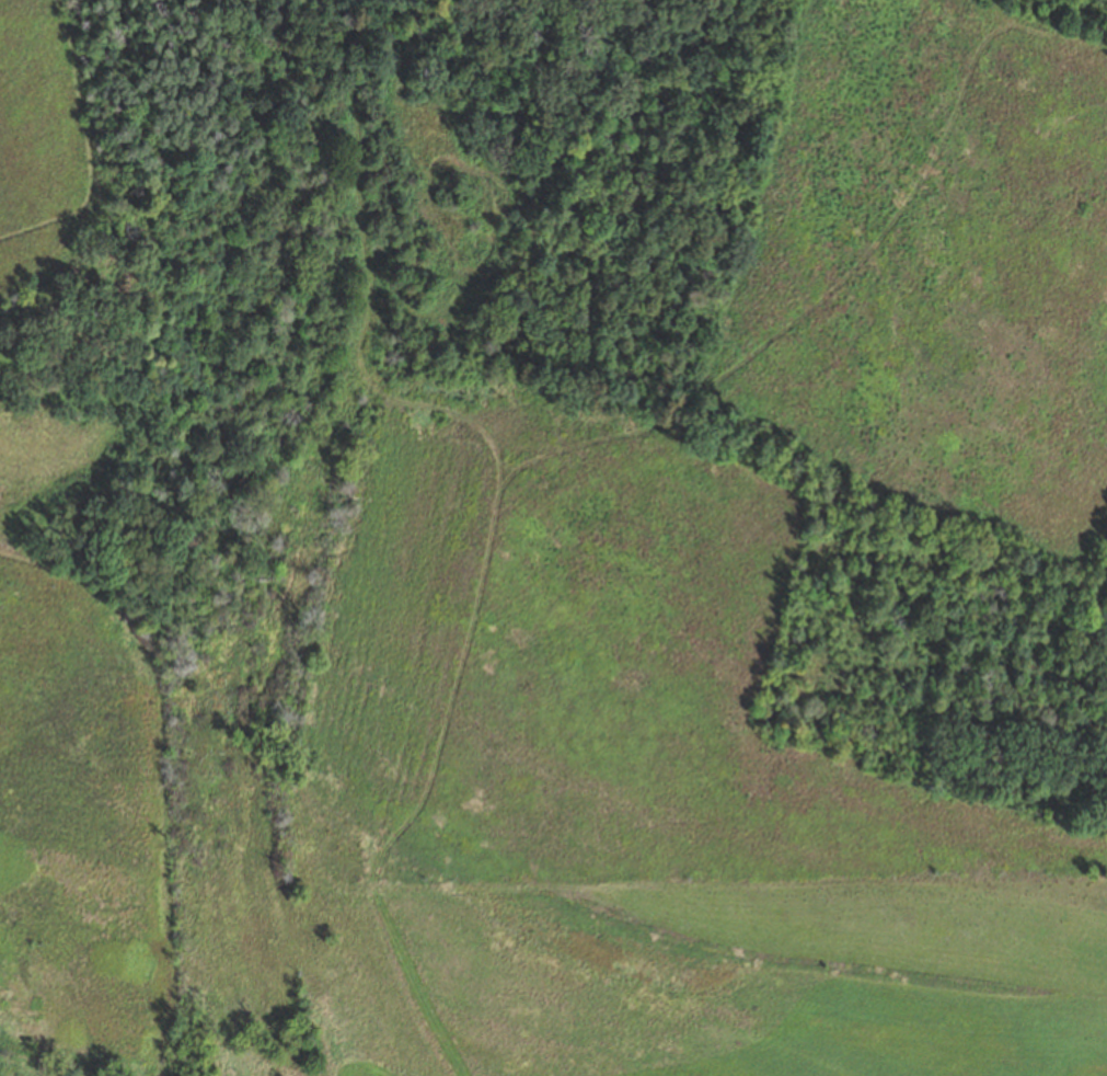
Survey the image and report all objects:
road: (390, 959)

